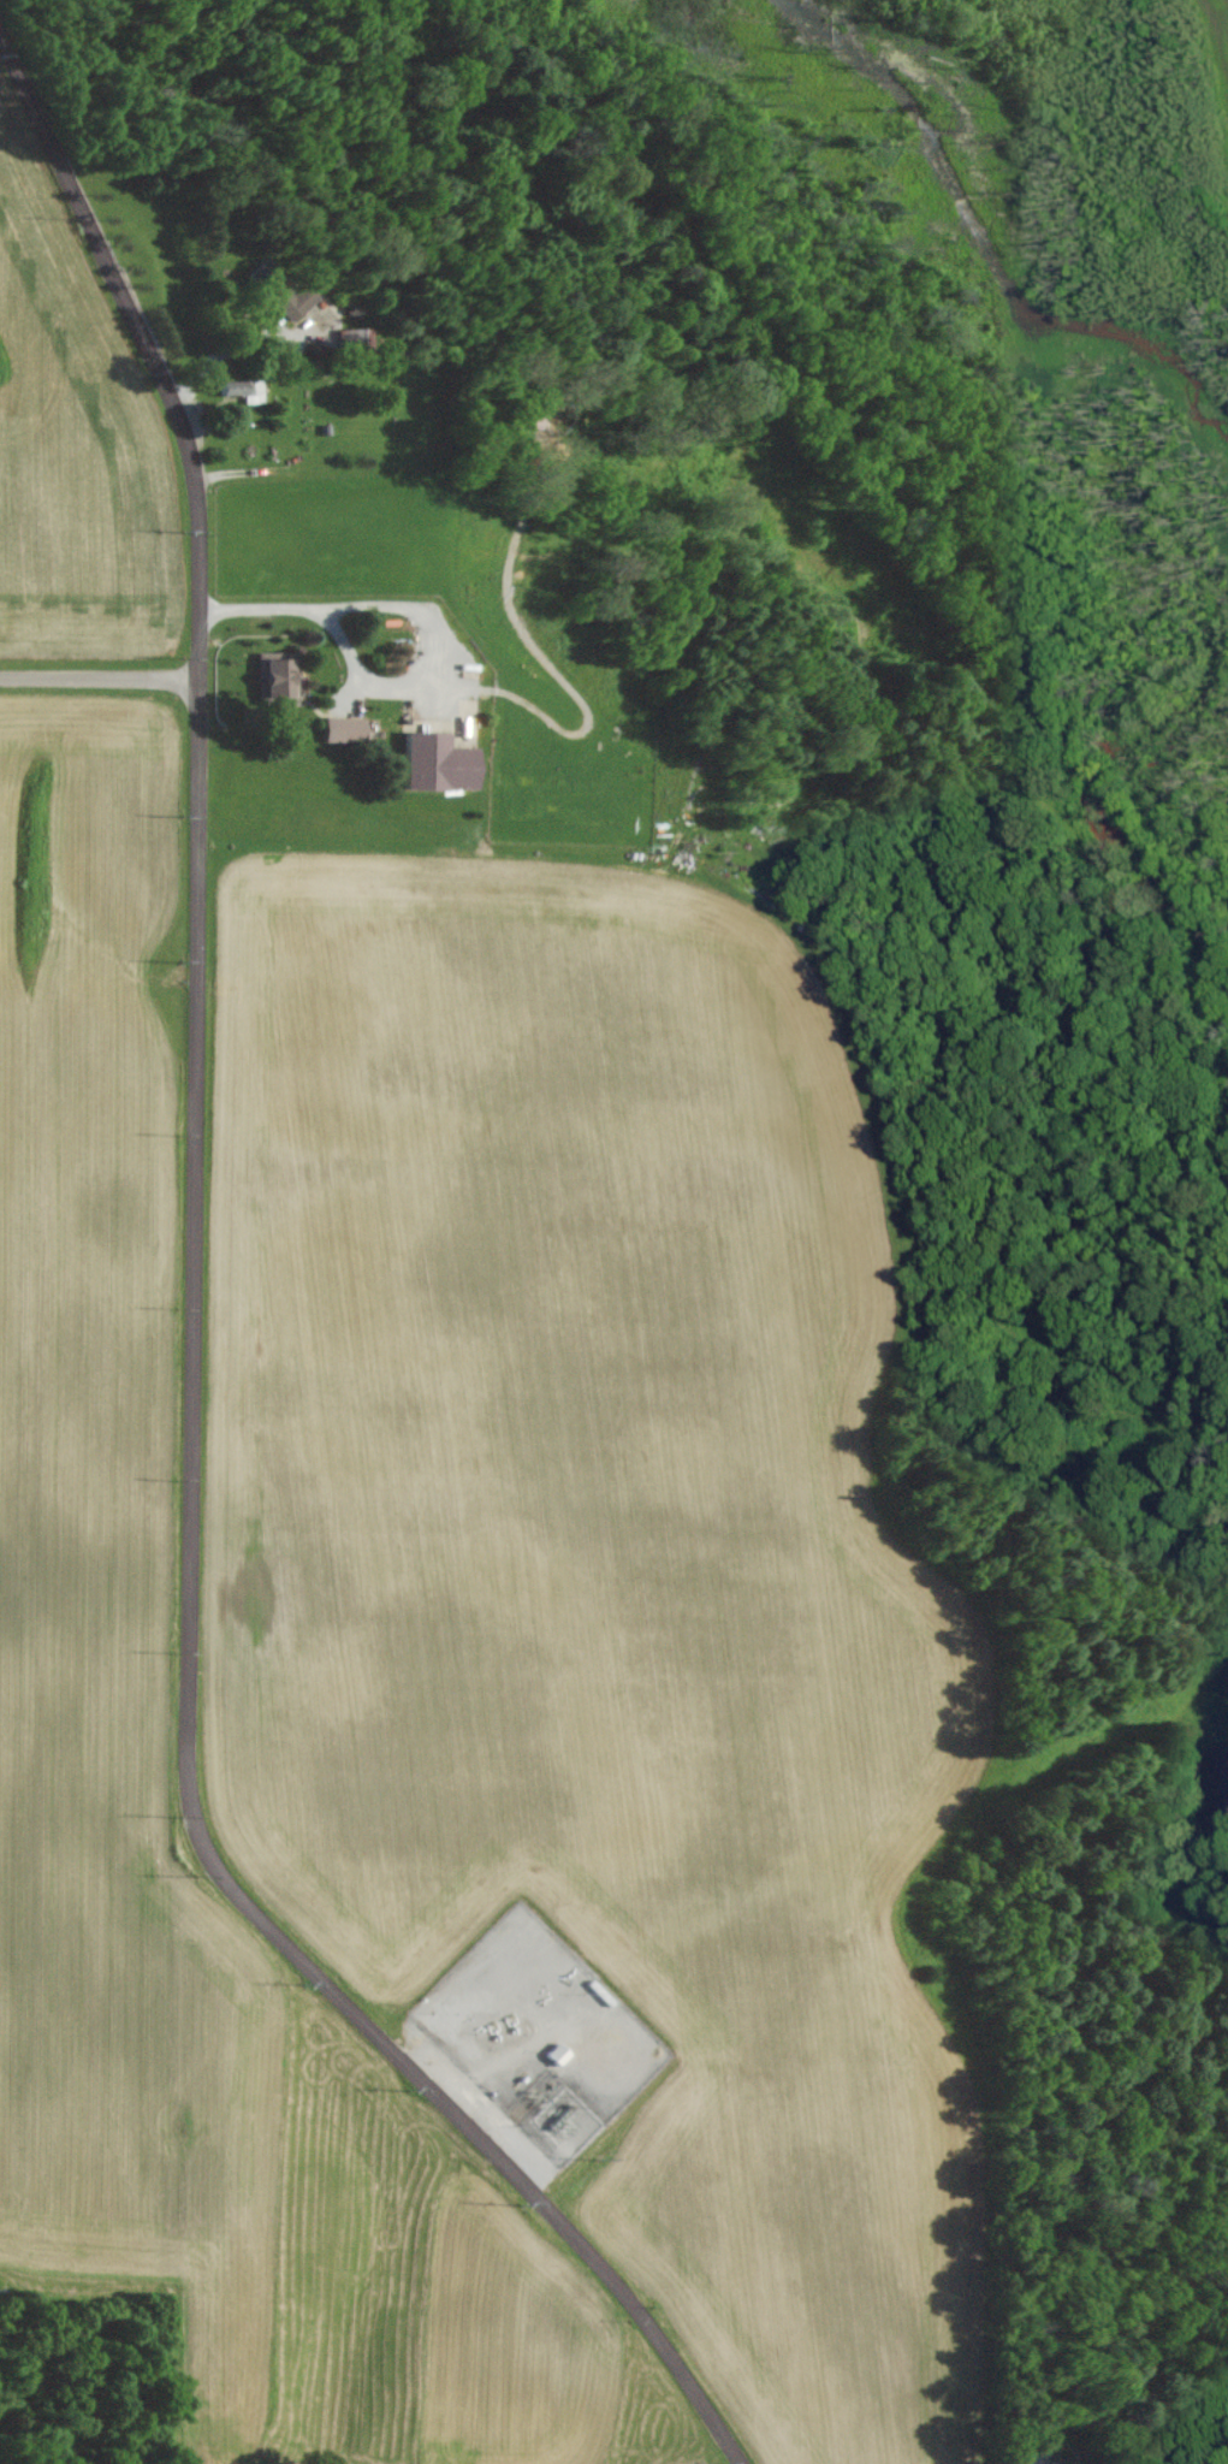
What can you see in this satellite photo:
building: (291, 298)
building: (346, 338)
building: (243, 389)
road: (274, 614)
road: (410, 639)
building: (278, 680)
road: (101, 681)
building: (343, 728)
building: (435, 763)
road: (196, 1329)
building: (557, 2053)
power substation: (560, 2116)

